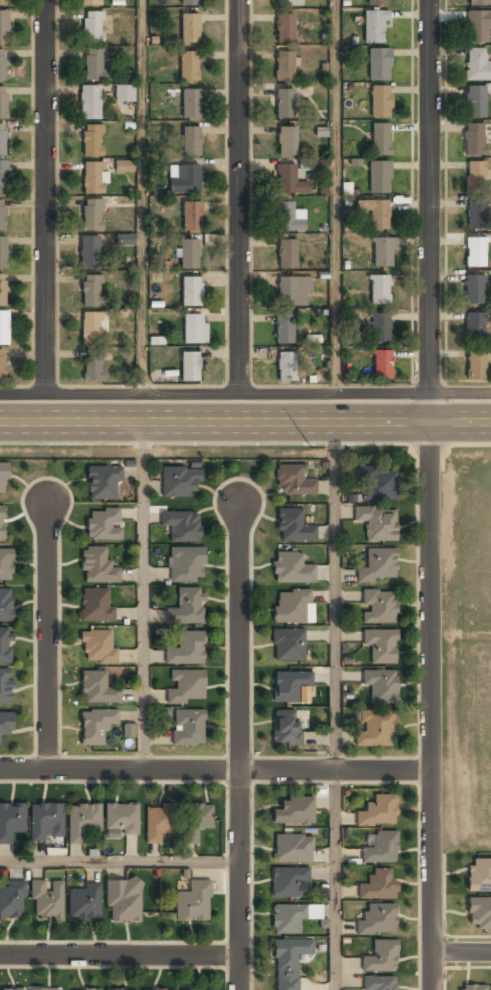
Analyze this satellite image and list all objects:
building: (191, 2)
building: (377, 2)
building: (2, 3)
building: (90, 3)
building: (288, 3)
building: (478, 3)
building: (374, 26)
building: (478, 26)
building: (4, 27)
building: (92, 27)
building: (189, 28)
building: (285, 28)
building: (379, 64)
building: (2, 65)
building: (94, 65)
building: (188, 66)
building: (477, 66)
building: (284, 67)
building: (124, 93)
building: (379, 101)
building: (2, 102)
building: (475, 102)
building: (89, 103)
building: (191, 103)
building: (285, 105)
building: (473, 138)
building: (2, 139)
building: (380, 139)
building: (91, 140)
building: (191, 140)
building: (286, 142)
building: (158, 165)
building: (124, 167)
building: (475, 174)
building: (4, 177)
building: (93, 177)
building: (189, 178)
building: (379, 178)
building: (288, 180)
road: (46, 196)
road: (141, 196)
road: (240, 196)
road: (335, 196)
road: (431, 211)
building: (375, 213)
building: (91, 214)
building: (477, 214)
building: (2, 215)
building: (191, 216)
building: (289, 217)
building: (125, 239)
building: (475, 251)
building: (2, 252)
building: (89, 253)
building: (287, 253)
building: (383, 253)
building: (189, 255)
building: (473, 289)
building: (379, 290)
building: (2, 291)
building: (91, 291)
building: (190, 292)
building: (293, 292)
building: (474, 323)
building: (90, 327)
building: (4, 328)
building: (379, 328)
building: (194, 329)
building: (284, 331)
building: (382, 365)
building: (476, 365)
building: (2, 366)
building: (189, 366)
building: (93, 367)
building: (286, 367)
road: (245, 393)
road: (245, 423)
power tower: (347, 445)
building: (3, 479)
building: (102, 482)
building: (179, 482)
building: (293, 482)
building: (377, 483)
building: (2, 524)
building: (377, 524)
building: (102, 525)
building: (181, 526)
building: (293, 527)
building: (5, 565)
building: (186, 565)
building: (378, 566)
building: (97, 567)
building: (291, 569)
road: (337, 595)
road: (143, 596)
building: (5, 606)
building: (95, 606)
building: (291, 607)
building: (186, 608)
building: (378, 608)
road: (51, 631)
building: (5, 646)
building: (288, 646)
building: (380, 646)
building: (97, 648)
building: (186, 650)
building: (5, 687)
building: (186, 687)
building: (290, 687)
building: (380, 687)
building: (96, 689)
road: (431, 706)
building: (6, 723)
building: (95, 727)
building: (286, 727)
building: (187, 728)
building: (375, 729)
building: (128, 730)
road: (243, 743)
road: (216, 769)
building: (294, 812)
building: (378, 812)
building: (121, 819)
building: (11, 822)
building: (45, 822)
building: (82, 822)
building: (195, 822)
building: (156, 824)
building: (292, 849)
building: (381, 849)
road: (121, 861)
building: (479, 876)
road: (336, 879)
building: (289, 884)
building: (378, 885)
building: (46, 900)
building: (12, 902)
building: (122, 902)
building: (84, 904)
building: (193, 904)
building: (479, 914)
building: (288, 919)
building: (377, 920)
road: (462, 954)
road: (121, 956)
building: (381, 958)
building: (288, 963)
building: (379, 983)
building: (472, 988)
building: (13, 989)
building: (43, 989)
building: (92, 989)
building: (171, 989)
building: (206, 989)

